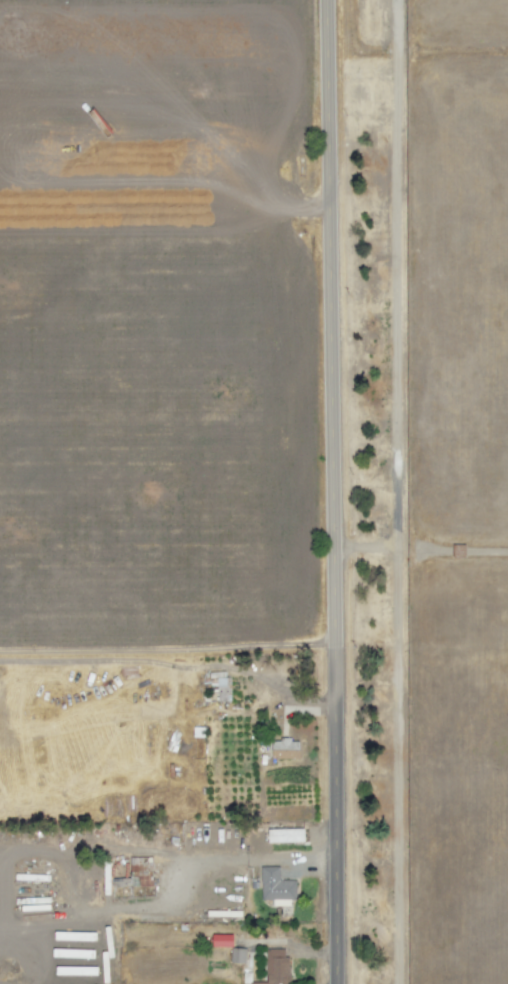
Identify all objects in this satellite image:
road: (335, 491)
road: (397, 492)
road: (421, 552)
road: (168, 647)
building: (223, 689)
building: (287, 747)
building: (289, 835)
road: (263, 859)
building: (136, 873)
building: (279, 885)
building: (226, 939)
building: (241, 955)
building: (283, 967)

